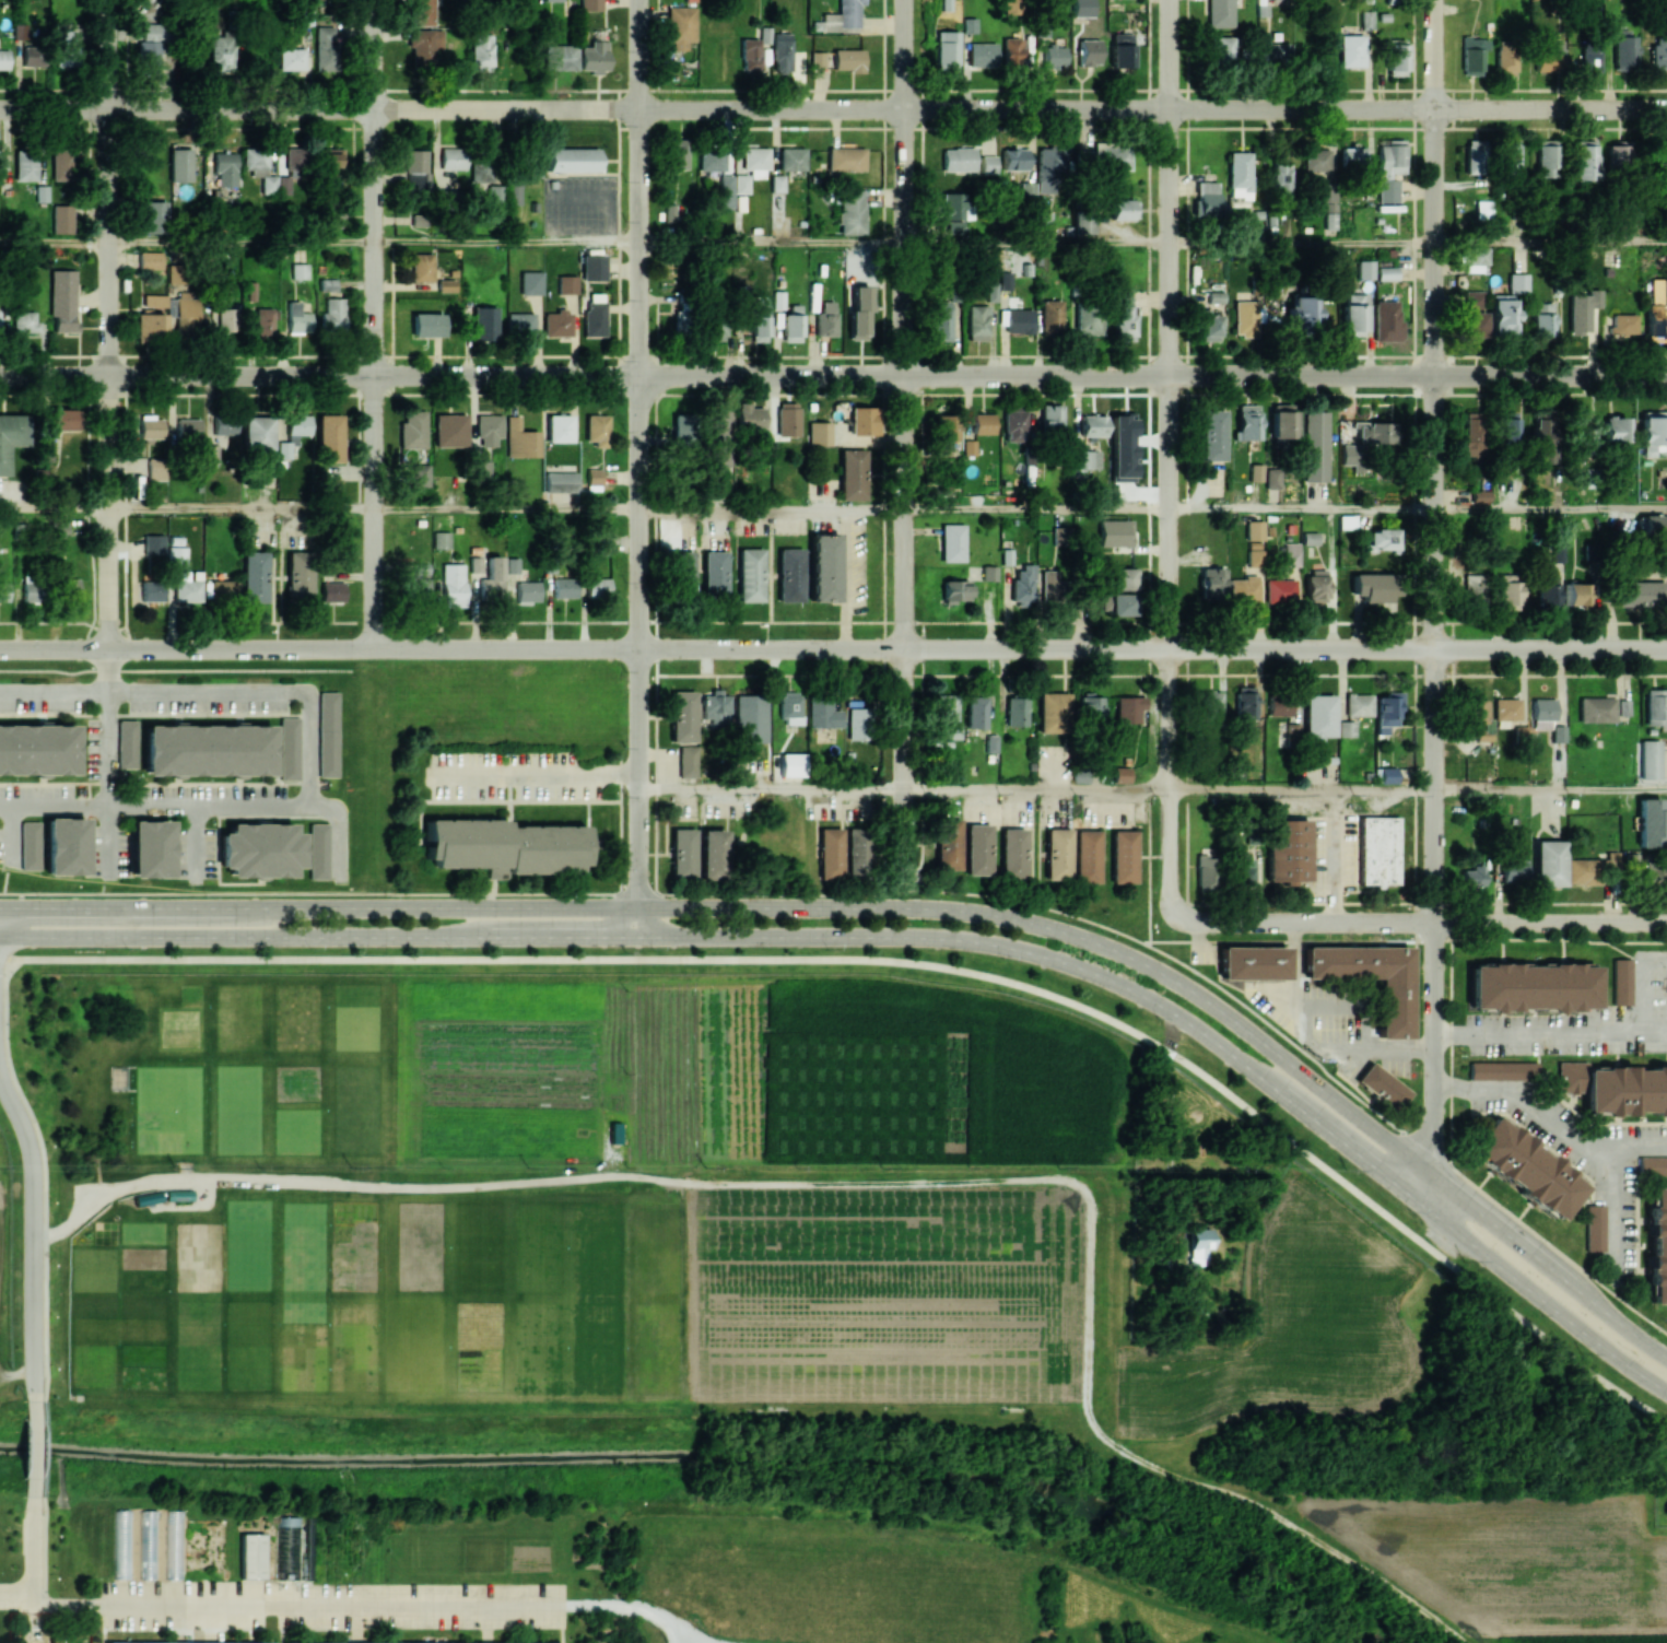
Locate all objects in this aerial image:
building: (552, 0)
building: (590, 4)
building: (1012, 7)
building: (423, 12)
building: (1220, 13)
building: (840, 17)
building: (1366, 20)
building: (680, 26)
building: (64, 35)
building: (763, 35)
building: (424, 40)
building: (151, 48)
building: (325, 48)
building: (1120, 49)
building: (1221, 49)
building: (946, 50)
building: (1350, 50)
building: (481, 51)
building: (1623, 51)
building: (221, 52)
building: (780, 52)
building: (1011, 52)
building: (1658, 52)
road: (107, 54)
road: (127, 54)
road: (353, 54)
road: (376, 54)
building: (1088, 54)
building: (1273, 54)
building: (1472, 54)
building: (32, 55)
road: (642, 55)
building: (750, 55)
road: (903, 55)
building: (982, 55)
building: (1054, 55)
building: (561, 56)
building: (67, 57)
building: (594, 57)
building: (1396, 57)
building: (1589, 57)
building: (291, 58)
building: (1504, 58)
building: (1549, 58)
building: (3, 59)
building: (817, 59)
building: (847, 59)
road: (833, 90)
road: (188, 108)
road: (905, 109)
road: (1551, 109)
road: (1142, 128)
building: (678, 153)
building: (1617, 153)
building: (1472, 156)
building: (451, 157)
building: (1103, 157)
building: (1352, 157)
building: (1508, 157)
building: (1546, 157)
building: (791, 159)
building: (845, 159)
building: (958, 159)
building: (1014, 159)
building: (572, 160)
building: (711, 160)
building: (1315, 160)
building: (1584, 160)
building: (330, 161)
building: (755, 162)
building: (25, 164)
building: (61, 164)
building: (179, 164)
building: (987, 164)
building: (259, 167)
building: (530, 167)
building: (1658, 167)
building: (225, 168)
building: (416, 169)
building: (1048, 169)
building: (1388, 169)
building: (481, 171)
building: (1238, 175)
building: (1280, 177)
building: (740, 184)
building: (1026, 190)
building: (725, 191)
building: (40, 192)
building: (494, 193)
building: (514, 193)
building: (1207, 199)
building: (1327, 202)
building: (1123, 209)
building: (1482, 209)
building: (954, 211)
building: (671, 212)
building: (850, 212)
building: (153, 216)
building: (61, 219)
building: (1044, 219)
building: (420, 220)
building: (1084, 222)
road: (54, 243)
road: (240, 243)
road: (508, 243)
road: (641, 243)
road: (773, 243)
road: (1551, 243)
road: (1036, 244)
road: (1302, 244)
building: (1475, 258)
building: (149, 260)
building: (421, 267)
building: (592, 267)
building: (1364, 269)
building: (298, 271)
building: (1386, 272)
building: (1006, 280)
building: (530, 283)
building: (1517, 283)
building: (327, 284)
building: (566, 284)
building: (446, 285)
building: (991, 291)
building: (1472, 298)
building: (62, 300)
building: (153, 300)
building: (1302, 309)
building: (1656, 309)
building: (1581, 310)
building: (858, 312)
building: (185, 315)
building: (332, 315)
building: (1353, 315)
building: (1501, 315)
building: (1050, 316)
building: (1124, 317)
building: (297, 318)
building: (594, 318)
building: (1245, 318)
building: (226, 319)
building: (681, 319)
building: (825, 319)
building: (1541, 319)
building: (759, 320)
building: (1016, 320)
building: (1089, 320)
building: (25, 321)
building: (940, 321)
building: (1386, 321)
building: (263, 322)
building: (977, 322)
building: (484, 324)
building: (520, 324)
building: (556, 324)
building: (1471, 324)
building: (1623, 324)
building: (426, 325)
building: (1209, 326)
building: (149, 327)
building: (791, 327)
building: (715, 332)
road: (187, 373)
road: (507, 374)
road: (1037, 375)
road: (1551, 375)
road: (107, 377)
road: (373, 377)
building: (749, 415)
building: (1050, 418)
building: (63, 419)
building: (787, 419)
building: (862, 420)
building: (1245, 422)
building: (982, 423)
building: (224, 425)
building: (1013, 425)
building: (1093, 425)
building: (1279, 425)
building: (151, 426)
building: (560, 427)
building: (681, 427)
building: (946, 427)
building: (187, 429)
building: (596, 429)
building: (1615, 429)
building: (412, 430)
building: (449, 430)
building: (490, 430)
building: (1372, 432)
building: (256, 433)
building: (819, 433)
building: (293, 435)
building: (716, 435)
building: (1211, 435)
building: (1471, 435)
building: (11, 436)
building: (1541, 436)
building: (1584, 436)
building: (328, 437)
building: (520, 438)
building: (1314, 446)
building: (1123, 447)
building: (46, 450)
building: (1352, 456)
road: (1169, 458)
building: (1085, 459)
building: (156, 469)
building: (480, 469)
building: (1254, 471)
building: (852, 474)
building: (419, 476)
building: (1271, 478)
building: (592, 479)
building: (560, 482)
building: (333, 486)
road: (904, 495)
building: (1480, 495)
road: (1551, 507)
road: (506, 509)
road: (772, 509)
road: (1036, 509)
road: (1302, 509)
road: (54, 512)
road: (239, 512)
building: (1346, 521)
building: (1653, 525)
building: (1253, 529)
building: (1115, 532)
building: (1308, 538)
building: (1382, 539)
building: (441, 540)
building: (951, 542)
building: (153, 543)
building: (1291, 554)
building: (176, 555)
building: (1254, 556)
building: (473, 564)
building: (512, 565)
building: (823, 566)
building: (683, 573)
building: (714, 573)
building: (988, 573)
building: (750, 574)
building: (789, 574)
building: (254, 576)
building: (298, 576)
building: (491, 578)
building: (1124, 578)
building: (415, 579)
building: (1211, 583)
building: (1049, 584)
building: (453, 585)
building: (1022, 585)
building: (1315, 586)
building: (1374, 586)
building: (30, 587)
building: (70, 587)
building: (563, 587)
building: (597, 587)
building: (1474, 588)
building: (1244, 589)
building: (151, 590)
building: (186, 590)
building: (223, 590)
building: (954, 590)
building: (1279, 590)
building: (3, 591)
building: (331, 591)
building: (527, 591)
building: (1548, 592)
building: (1578, 594)
building: (1640, 594)
building: (1510, 595)
road: (1435, 600)
building: (1115, 603)
road: (918, 621)
road: (639, 641)
road: (319, 646)
road: (1036, 648)
road: (1551, 648)
road: (174, 669)
road: (1160, 674)
road: (54, 692)
road: (208, 692)
building: (1244, 703)
building: (1279, 704)
building: (1358, 704)
building: (1209, 705)
building: (1654, 706)
building: (789, 707)
building: (947, 707)
building: (1091, 707)
building: (716, 708)
building: (1128, 708)
building: (1506, 708)
building: (1596, 709)
building: (1387, 711)
building: (1477, 711)
building: (823, 712)
building: (975, 712)
building: (1016, 712)
building: (1052, 712)
building: (1542, 713)
building: (681, 716)
building: (1317, 716)
building: (751, 718)
building: (858, 724)
building: (1346, 728)
building: (951, 731)
building: (1484, 731)
building: (327, 734)
building: (1558, 734)
building: (127, 743)
building: (990, 743)
building: (289, 748)
road: (309, 749)
building: (37, 750)
building: (207, 750)
building: (686, 755)
building: (1653, 760)
road: (107, 761)
building: (791, 764)
building: (1080, 774)
building: (1120, 774)
road: (537, 775)
building: (1384, 775)
road: (1036, 789)
road: (1302, 789)
road: (1551, 789)
road: (771, 790)
road: (208, 806)
road: (5, 807)
road: (59, 807)
building: (1650, 822)
road: (341, 825)
road: (11, 834)
road: (196, 843)
building: (948, 844)
building: (30, 845)
building: (64, 845)
building: (504, 846)
building: (149, 848)
building: (259, 849)
building: (976, 849)
building: (317, 850)
building: (856, 850)
building: (1287, 850)
building: (1377, 850)
building: (681, 853)
building: (830, 853)
building: (1012, 853)
building: (712, 854)
building: (1057, 854)
building: (1087, 856)
building: (1123, 856)
building: (1547, 862)
building: (1632, 862)
road: (1149, 867)
building: (1205, 868)
building: (1588, 869)
building: (1512, 870)
building: (1243, 871)
building: (1472, 875)
building: (1655, 876)
road: (306, 892)
road: (1311, 902)
road: (318, 906)
road: (914, 906)
road: (636, 920)
road: (1081, 922)
road: (1421, 923)
road: (318, 936)
road: (908, 936)
road: (1408, 944)
road: (904, 962)
building: (1253, 962)
building: (1621, 982)
building: (1527, 989)
building: (1393, 1007)
road: (1551, 1034)
road: (1312, 1041)
building: (1502, 1070)
crop: (627, 1071)
building: (1382, 1085)
building: (1625, 1093)
road: (1530, 1104)
road: (1167, 1128)
road: (1640, 1146)
crop: (1, 1153)
road: (1424, 1165)
building: (1652, 1165)
building: (1526, 1166)
road: (527, 1180)
road: (1468, 1182)
road: (1417, 1201)
road: (1613, 1211)
building: (1594, 1228)
road: (33, 1237)
building: (1656, 1241)
building: (1199, 1245)
crop: (4, 1283)
crop: (575, 1296)
crop: (1298, 1323)
road: (33, 1447)
river: (708, 1452)
building: (120, 1544)
building: (146, 1544)
building: (172, 1544)
building: (251, 1556)
crop: (1517, 1561)
road: (33, 1569)
road: (277, 1605)
building: (243, 1642)
building: (503, 1642)

